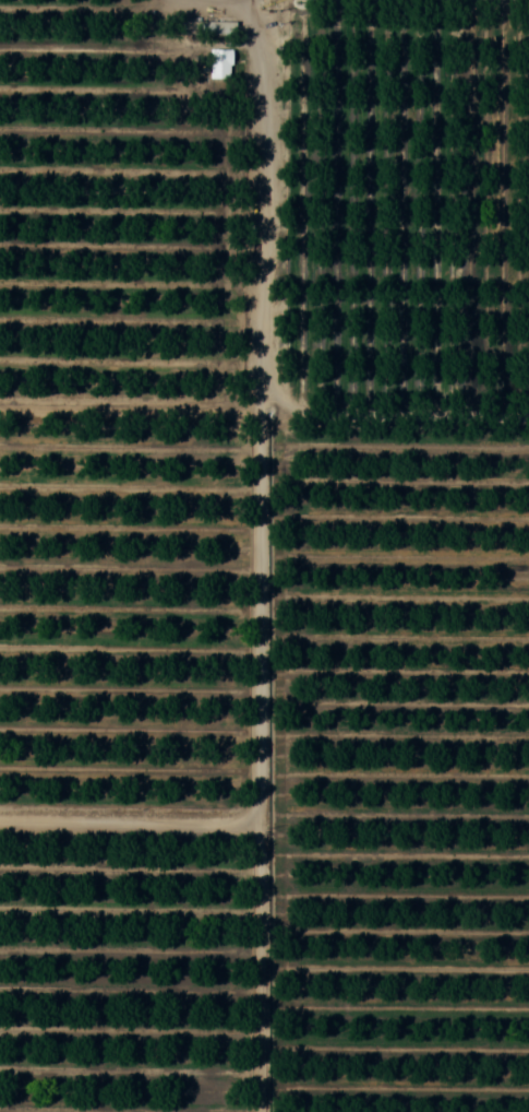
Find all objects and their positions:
building: (208, 28)
building: (220, 63)
road: (262, 376)
road: (128, 819)

